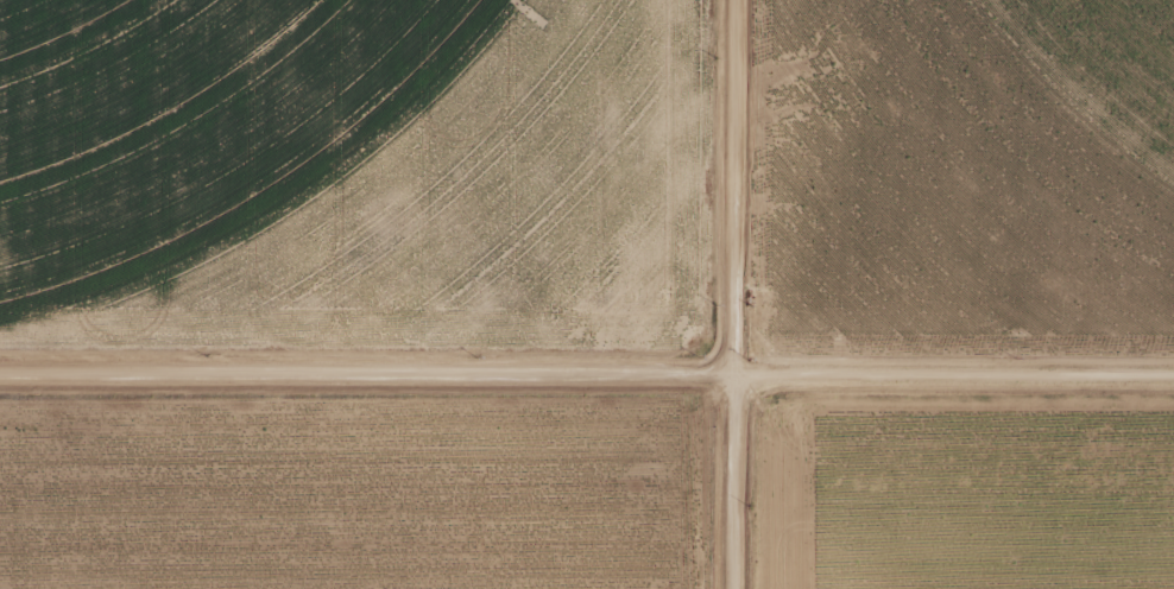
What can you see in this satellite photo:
road: (719, 294)
road: (587, 341)

